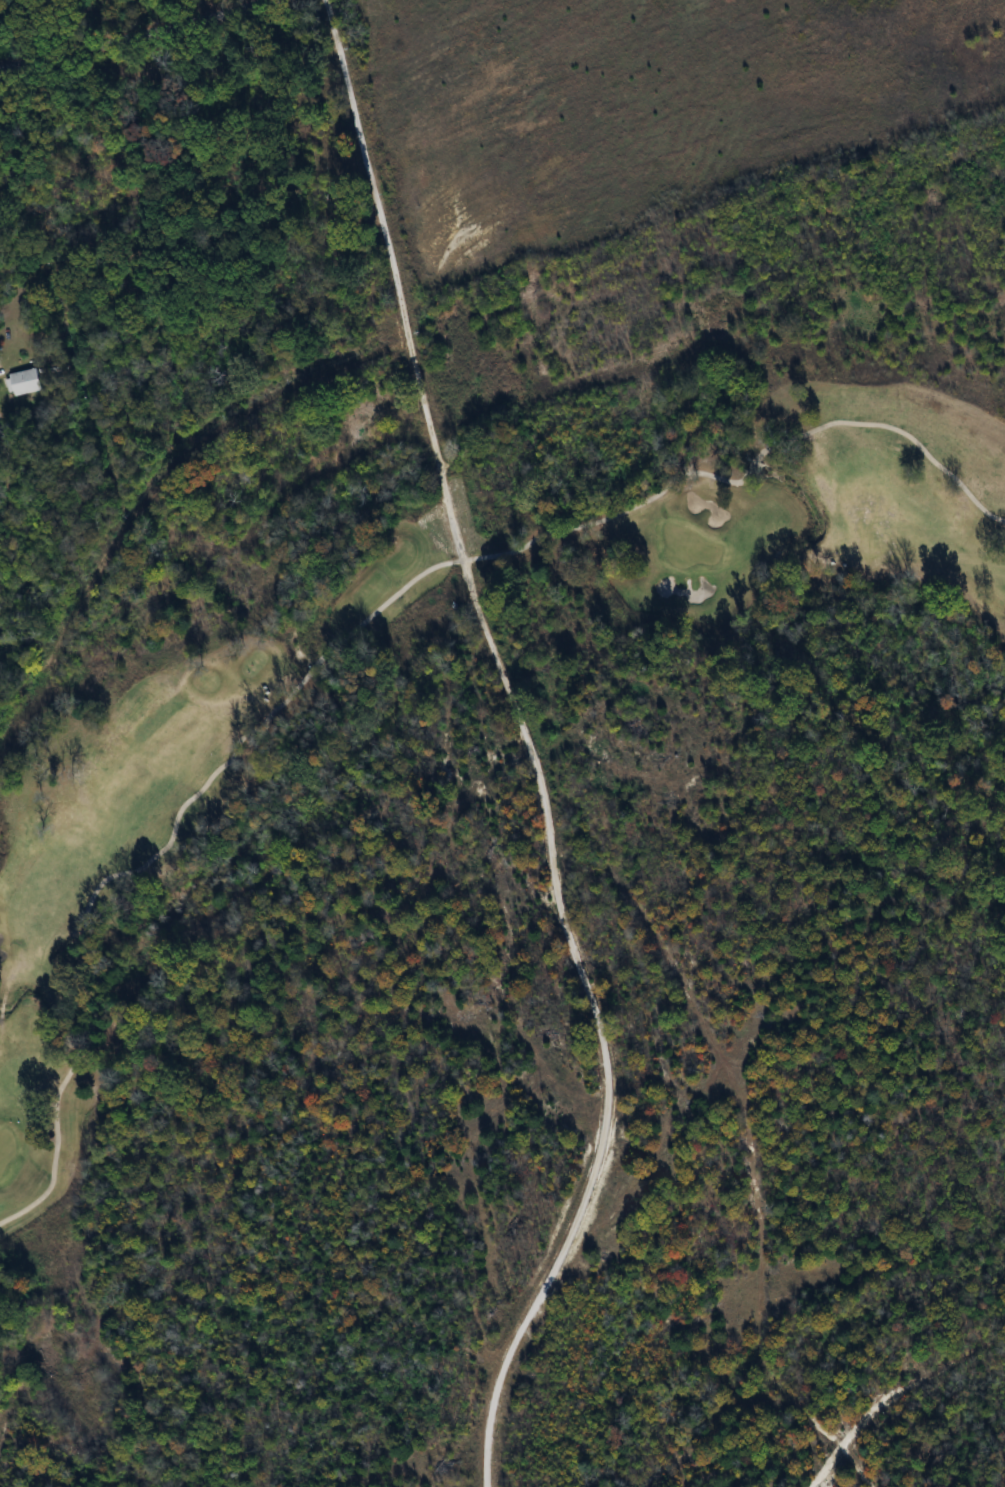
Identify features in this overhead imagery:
road: (163, 39)
building: (24, 382)
road: (749, 475)
road: (520, 746)
road: (155, 858)

